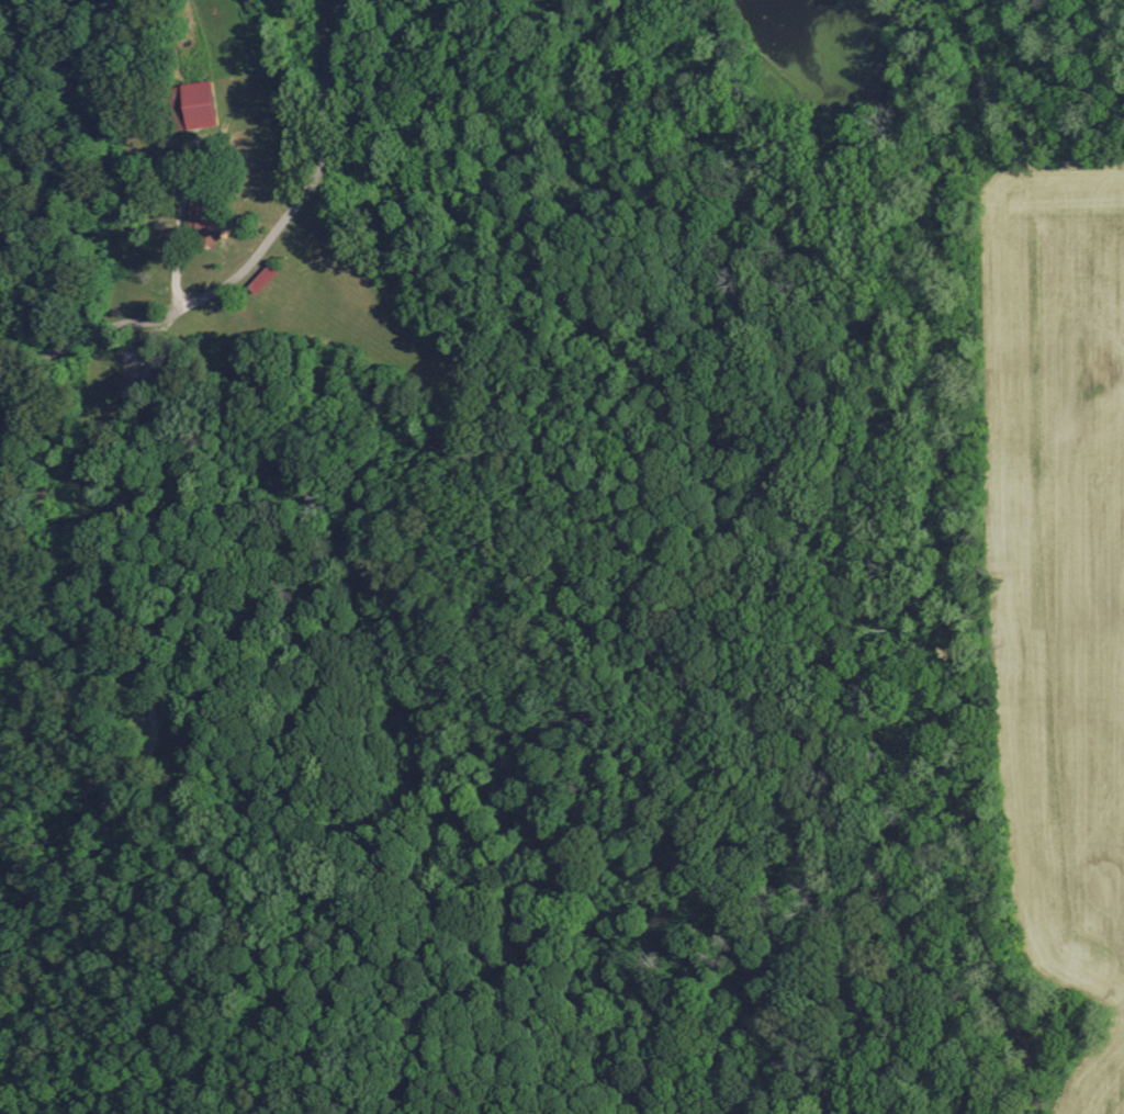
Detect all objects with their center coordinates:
road: (312, 193)
building: (203, 218)
building: (261, 278)
road: (128, 553)

